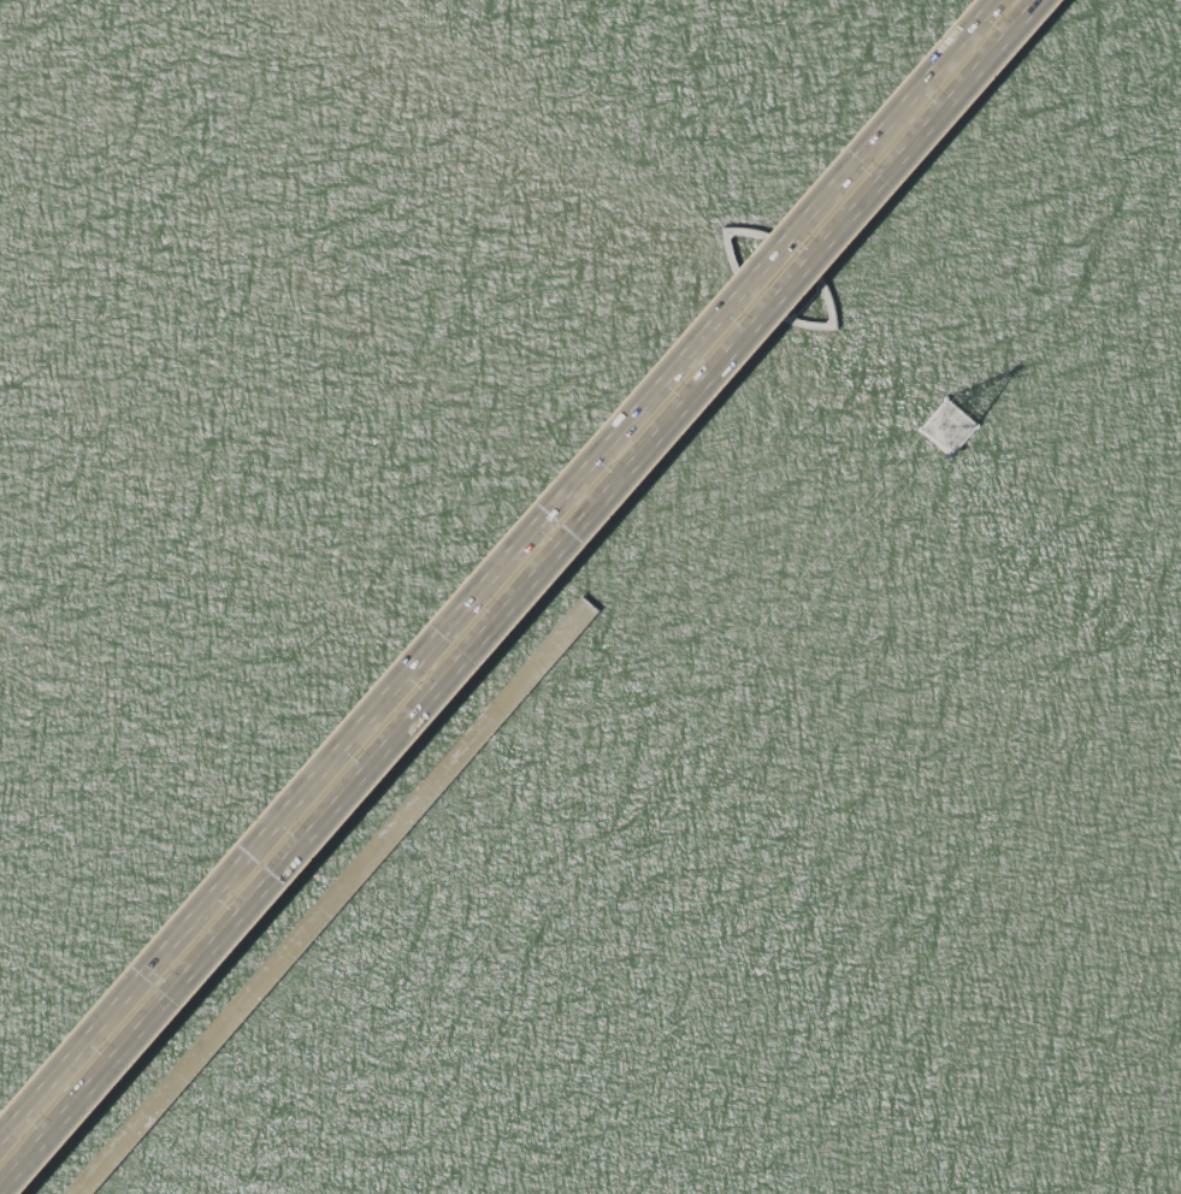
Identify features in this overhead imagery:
pier: (944, 426)
power tower: (951, 430)
road: (497, 572)
road: (519, 597)
pier: (326, 899)
road: (327, 899)

